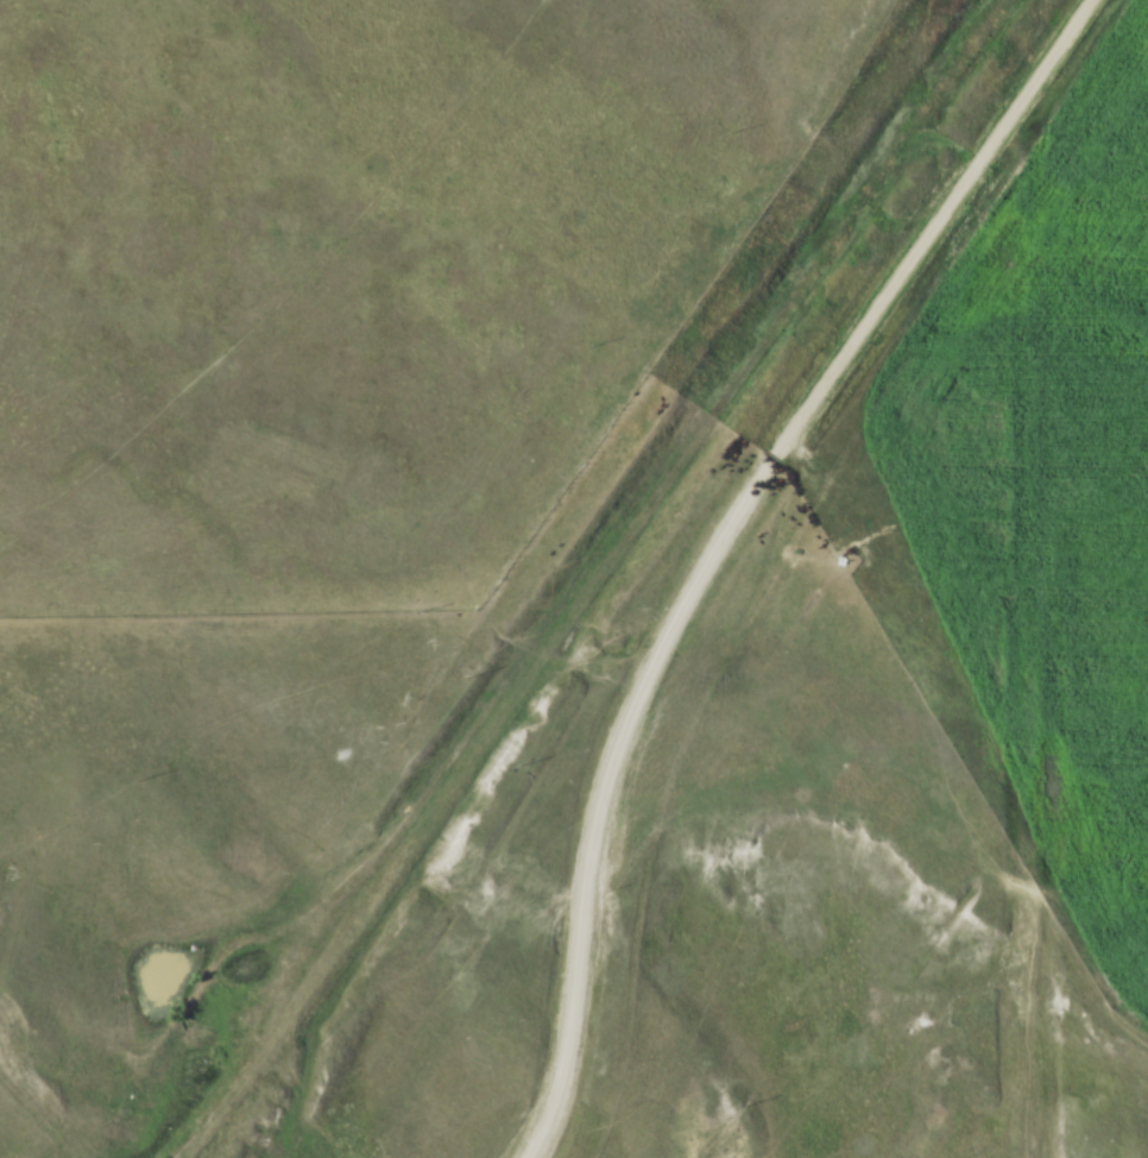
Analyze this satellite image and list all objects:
road: (725, 541)
railway: (603, 590)

